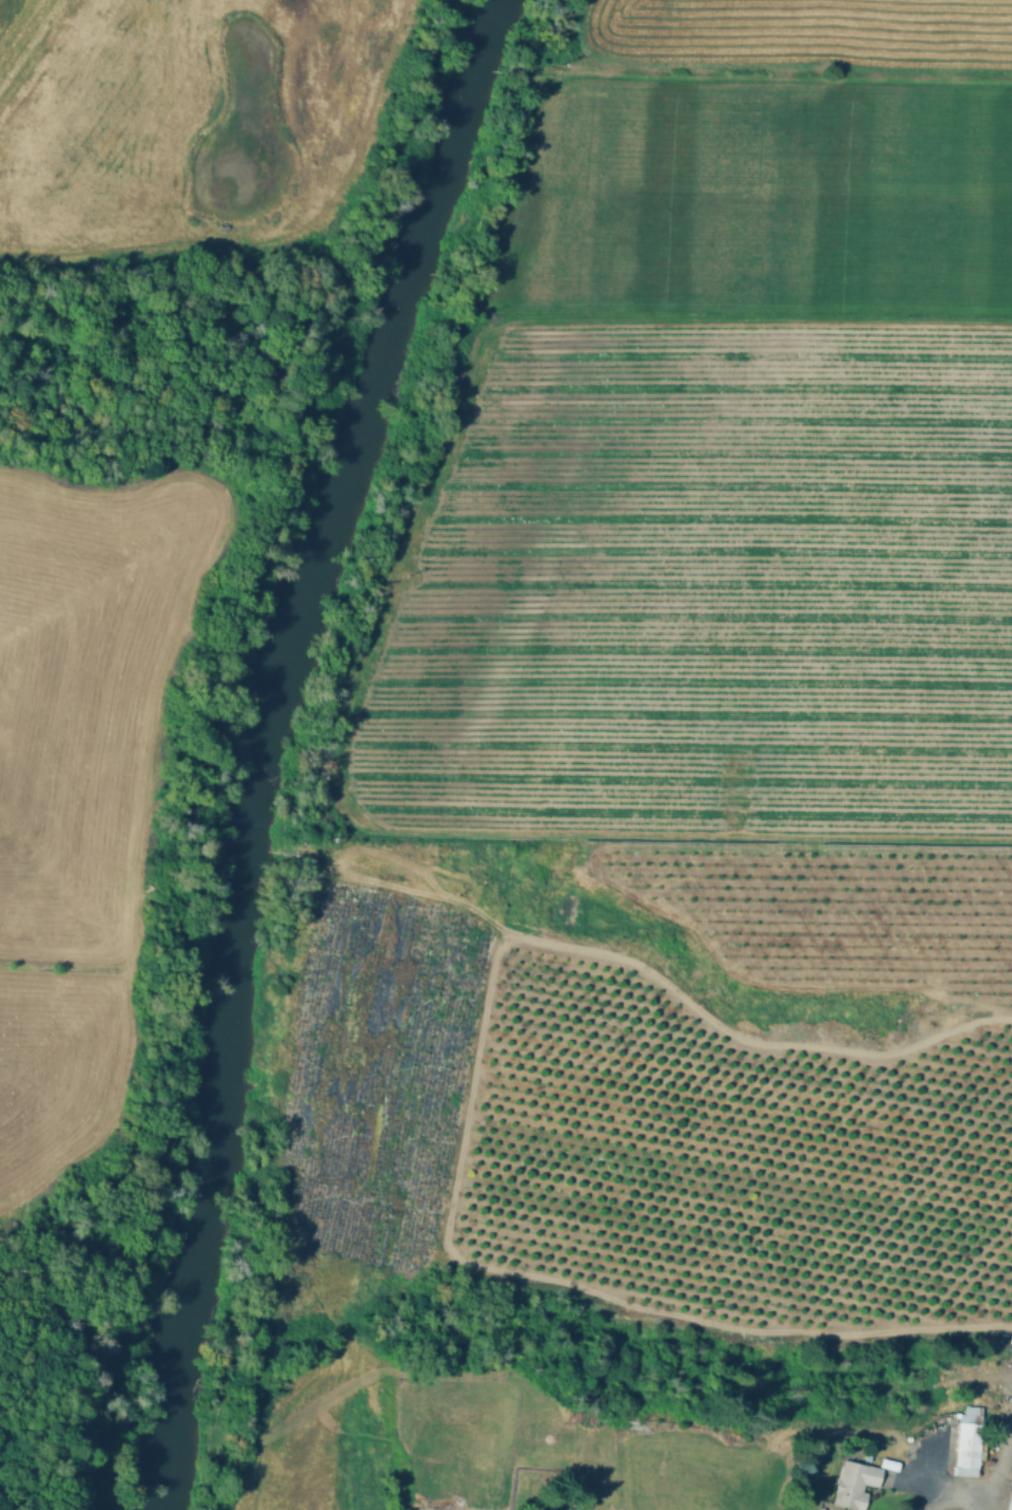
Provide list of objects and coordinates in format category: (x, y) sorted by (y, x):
road: (789, 73)
crop: (178, 111)
crop: (756, 198)
road: (489, 334)
road: (134, 501)
river: (243, 734)
crop: (74, 773)
road: (674, 990)
building: (970, 1440)
building: (561, 1443)
road: (997, 1463)
building: (854, 1484)
road: (949, 1497)
building: (1010, 1502)
building: (554, 1509)

